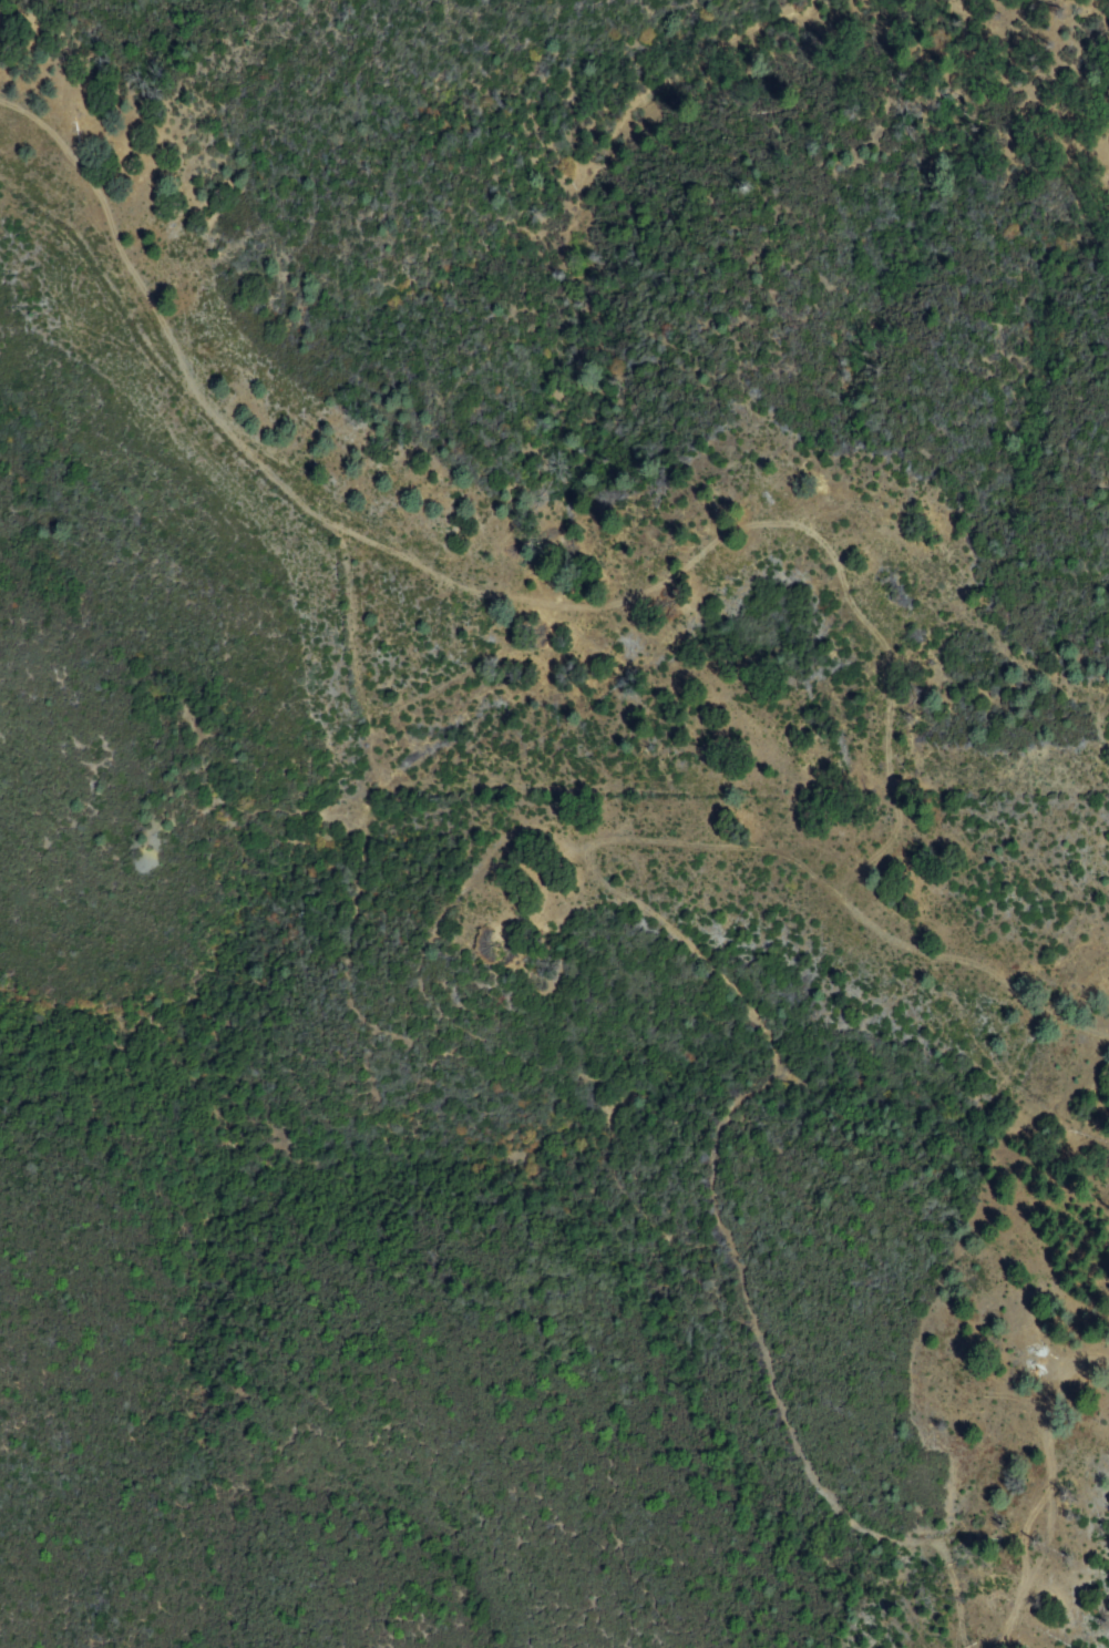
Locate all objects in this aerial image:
road: (845, 899)

